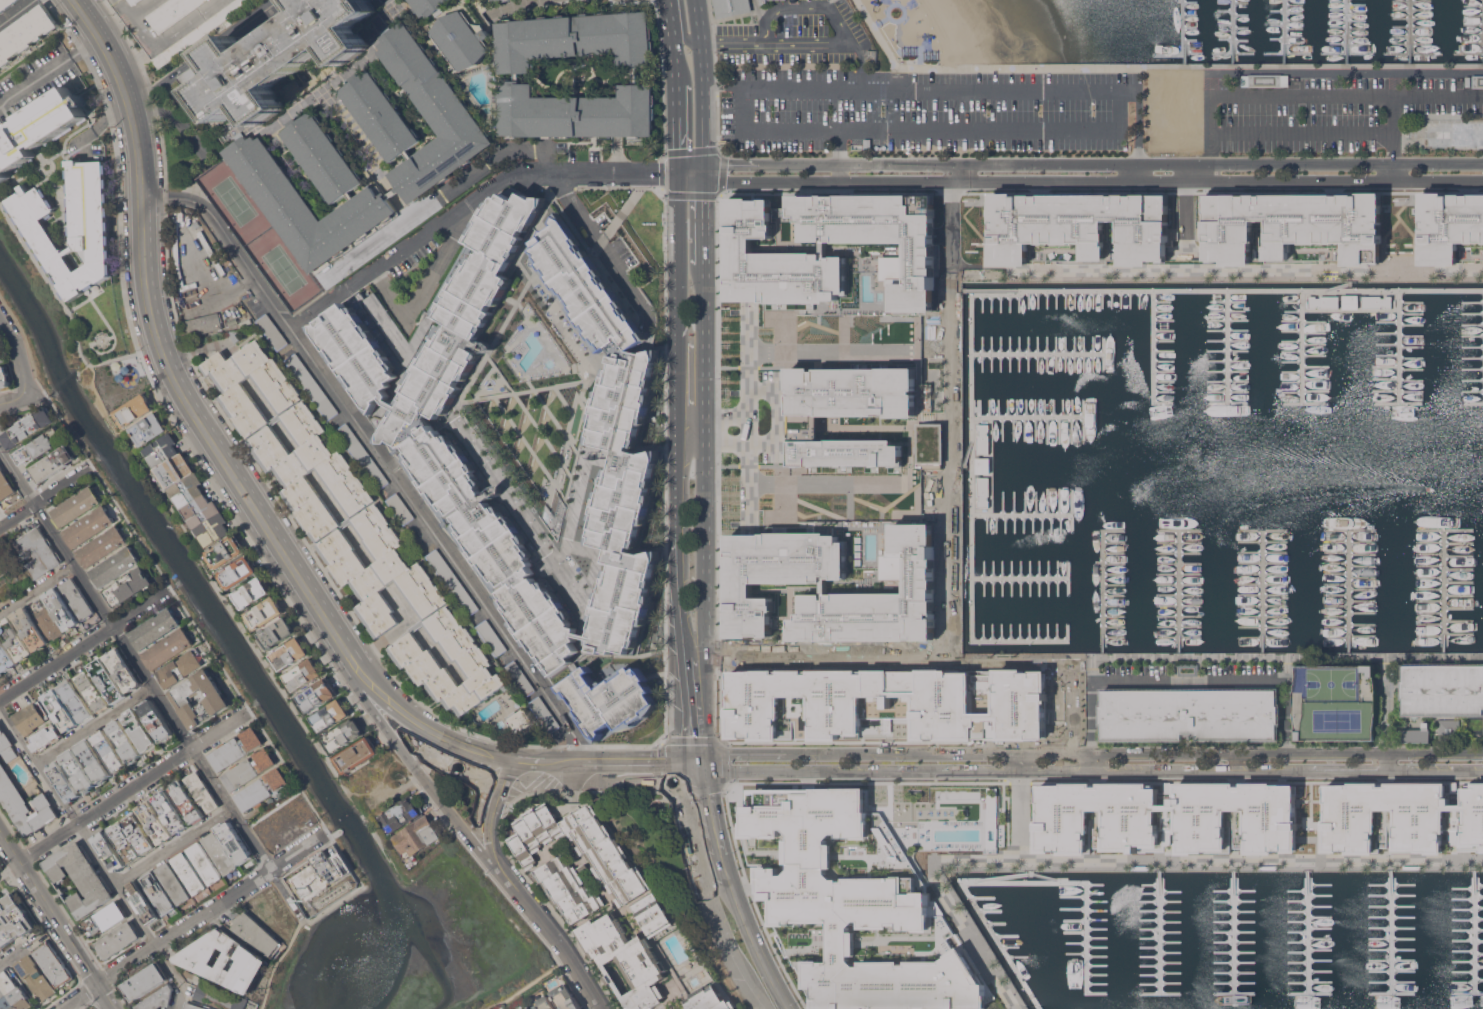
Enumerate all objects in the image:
building: (492, 0)
building: (496, 0)
building: (504, 0)
building: (762, 1)
building: (134, 2)
building: (6, 5)
building: (430, 7)
road: (519, 7)
building: (731, 7)
road: (16, 12)
building: (170, 12)
road: (135, 14)
road: (668, 15)
road: (767, 19)
pier: (1183, 31)
pier: (1231, 31)
pier: (1283, 31)
pier: (1345, 31)
pier: (1408, 31)
building: (26, 34)
road: (685, 38)
building: (462, 39)
pier: (1482, 41)
road: (733, 42)
road: (881, 42)
road: (201, 52)
road: (674, 52)
building: (871, 55)
building: (277, 58)
road: (1189, 65)
road: (49, 71)
building: (519, 76)
road: (714, 76)
building: (1265, 80)
building: (1468, 81)
building: (1477, 81)
road: (704, 82)
road: (1022, 89)
road: (1395, 95)
road: (1311, 98)
parking lot: (926, 109)
parking lot: (1343, 112)
road: (678, 122)
road: (1214, 126)
building: (38, 128)
road: (1304, 132)
building: (1450, 133)
road: (503, 151)
road: (838, 155)
traffic signals: (704, 165)
road: (1093, 165)
road: (691, 169)
traffic signals: (679, 173)
road: (704, 173)
building: (347, 177)
road: (691, 177)
traffic signals: (704, 182)
road: (1093, 182)
park: (239, 201)
road: (469, 204)
building: (193, 217)
road: (962, 219)
building: (196, 224)
building: (1448, 225)
building: (72, 226)
building: (1081, 226)
building: (1292, 226)
road: (704, 228)
building: (831, 250)
park: (288, 267)
road: (1216, 271)
road: (621, 276)
road: (428, 282)
pier: (1335, 285)
building: (583, 286)
pier: (1221, 290)
road: (68, 314)
pier: (1482, 318)
building: (201, 325)
building: (271, 331)
building: (235, 334)
pier: (1152, 345)
pier: (1226, 345)
pier: (1397, 345)
pier: (1299, 346)
pier: (1035, 351)
road: (16, 352)
road: (745, 357)
building: (3, 359)
building: (359, 359)
building: (4, 377)
building: (311, 385)
road: (12, 398)
road: (679, 399)
building: (135, 410)
pier: (1026, 416)
building: (856, 417)
road: (778, 418)
road: (732, 421)
building: (28, 428)
building: (149, 429)
road: (692, 429)
road: (711, 429)
road: (204, 432)
road: (732, 437)
building: (39, 446)
building: (162, 451)
building: (362, 456)
road: (381, 457)
building: (54, 463)
road: (89, 466)
building: (174, 472)
road: (746, 474)
road: (16, 475)
building: (5, 486)
building: (188, 490)
building: (627, 495)
road: (43, 496)
building: (76, 506)
building: (400, 508)
pier: (971, 511)
building: (201, 512)
pier: (1019, 513)
road: (705, 519)
building: (89, 526)
building: (375, 527)
building: (213, 530)
building: (102, 546)
building: (490, 547)
building: (226, 551)
building: (38, 552)
building: (115, 566)
building: (238, 572)
pier: (1017, 576)
building: (451, 581)
building: (129, 587)
building: (832, 587)
pier: (1348, 590)
road: (38, 591)
road: (169, 591)
pier: (1101, 591)
pier: (1178, 591)
pier: (1261, 591)
pier: (1443, 591)
building: (252, 593)
building: (77, 598)
building: (62, 609)
road: (184, 610)
building: (265, 613)
building: (47, 620)
building: (31, 628)
building: (155, 628)
building: (278, 633)
building: (491, 637)
building: (15, 639)
road: (83, 646)
building: (168, 649)
building: (291, 653)
building: (6, 656)
road: (1028, 656)
building: (180, 668)
building: (123, 669)
building: (1, 673)
building: (304, 674)
building: (1071, 677)
building: (519, 678)
road: (1189, 679)
building: (108, 680)
park: (1334, 683)
building: (92, 690)
building: (1444, 692)
road: (681, 694)
building: (318, 695)
building: (78, 700)
building: (217, 701)
building: (609, 702)
building: (1335, 702)
building: (888, 704)
road: (168, 709)
building: (61, 710)
road: (246, 713)
building: (544, 714)
building: (1189, 714)
building: (331, 715)
building: (29, 718)
building: (156, 720)
building: (521, 720)
park: (1339, 720)
road: (95, 725)
building: (1449, 729)
building: (140, 730)
building: (345, 734)
building: (1412, 736)
building: (46, 738)
building: (125, 740)
building: (7, 746)
building: (236, 749)
building: (108, 750)
road: (1092, 754)
building: (358, 755)
building: (93, 760)
road: (1020, 762)
road: (1175, 762)
road: (1388, 762)
road: (1093, 763)
road: (693, 764)
traffic signals: (705, 764)
traffic signals: (682, 765)
road: (594, 767)
building: (249, 769)
building: (78, 770)
road: (416, 770)
road: (821, 770)
road: (980, 771)
road: (1164, 771)
road: (1348, 771)
road: (1436, 771)
building: (64, 781)
road: (130, 787)
building: (262, 789)
building: (202, 791)
building: (187, 802)
building: (25, 804)
road: (713, 809)
road: (492, 810)
building: (171, 811)
building: (400, 815)
building: (156, 822)
building: (1481, 822)
road: (78, 825)
building: (1222, 836)
building: (1370, 836)
building: (132, 837)
building: (417, 837)
building: (1083, 838)
building: (234, 841)
road: (287, 844)
road: (173, 846)
building: (109, 851)
building: (219, 852)
building: (341, 862)
building: (204, 863)
road: (726, 866)
road: (9, 868)
building: (188, 873)
building: (316, 875)
road: (701, 876)
building: (79, 878)
building: (173, 883)
building: (157, 893)
building: (143, 902)
building: (606, 902)
building: (853, 910)
building: (105, 918)
building: (13, 919)
road: (57, 919)
pier: (1048, 927)
pier: (1316, 931)
pier: (1474, 931)
road: (550, 932)
pier: (1113, 932)
pier: (1178, 932)
pier: (1242, 932)
pier: (1390, 932)
building: (256, 933)
road: (164, 938)
building: (117, 939)
road: (757, 946)
building: (0, 951)
road: (18, 951)
building: (225, 960)
road: (277, 961)
building: (53, 963)
road: (175, 975)
building: (35, 977)
building: (144, 981)
road: (528, 984)
building: (12, 993)
road: (756, 995)
building: (219, 996)
building: (157, 998)
building: (566, 998)
building: (545, 1003)
building: (193, 1006)
building: (528, 1008)

